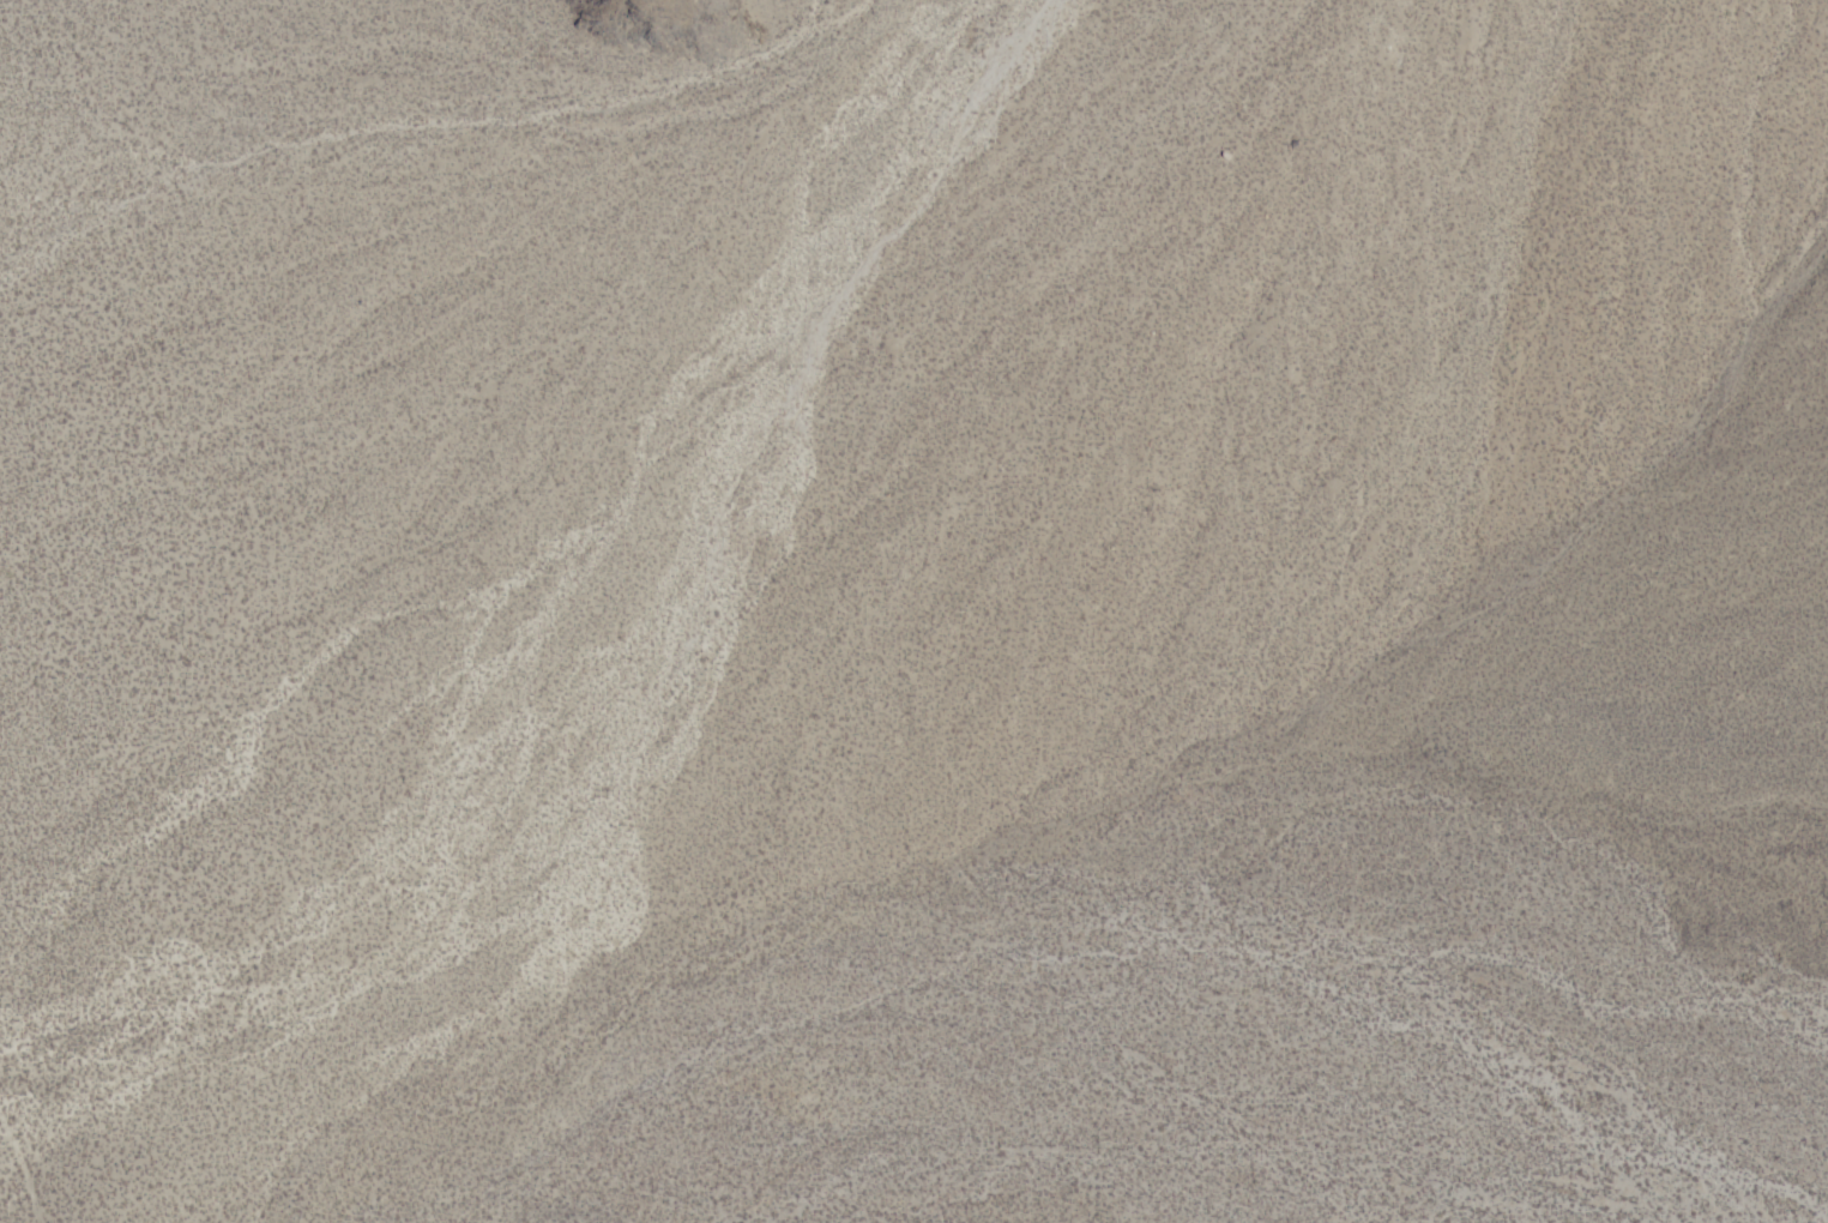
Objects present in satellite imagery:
road: (23, 1159)

